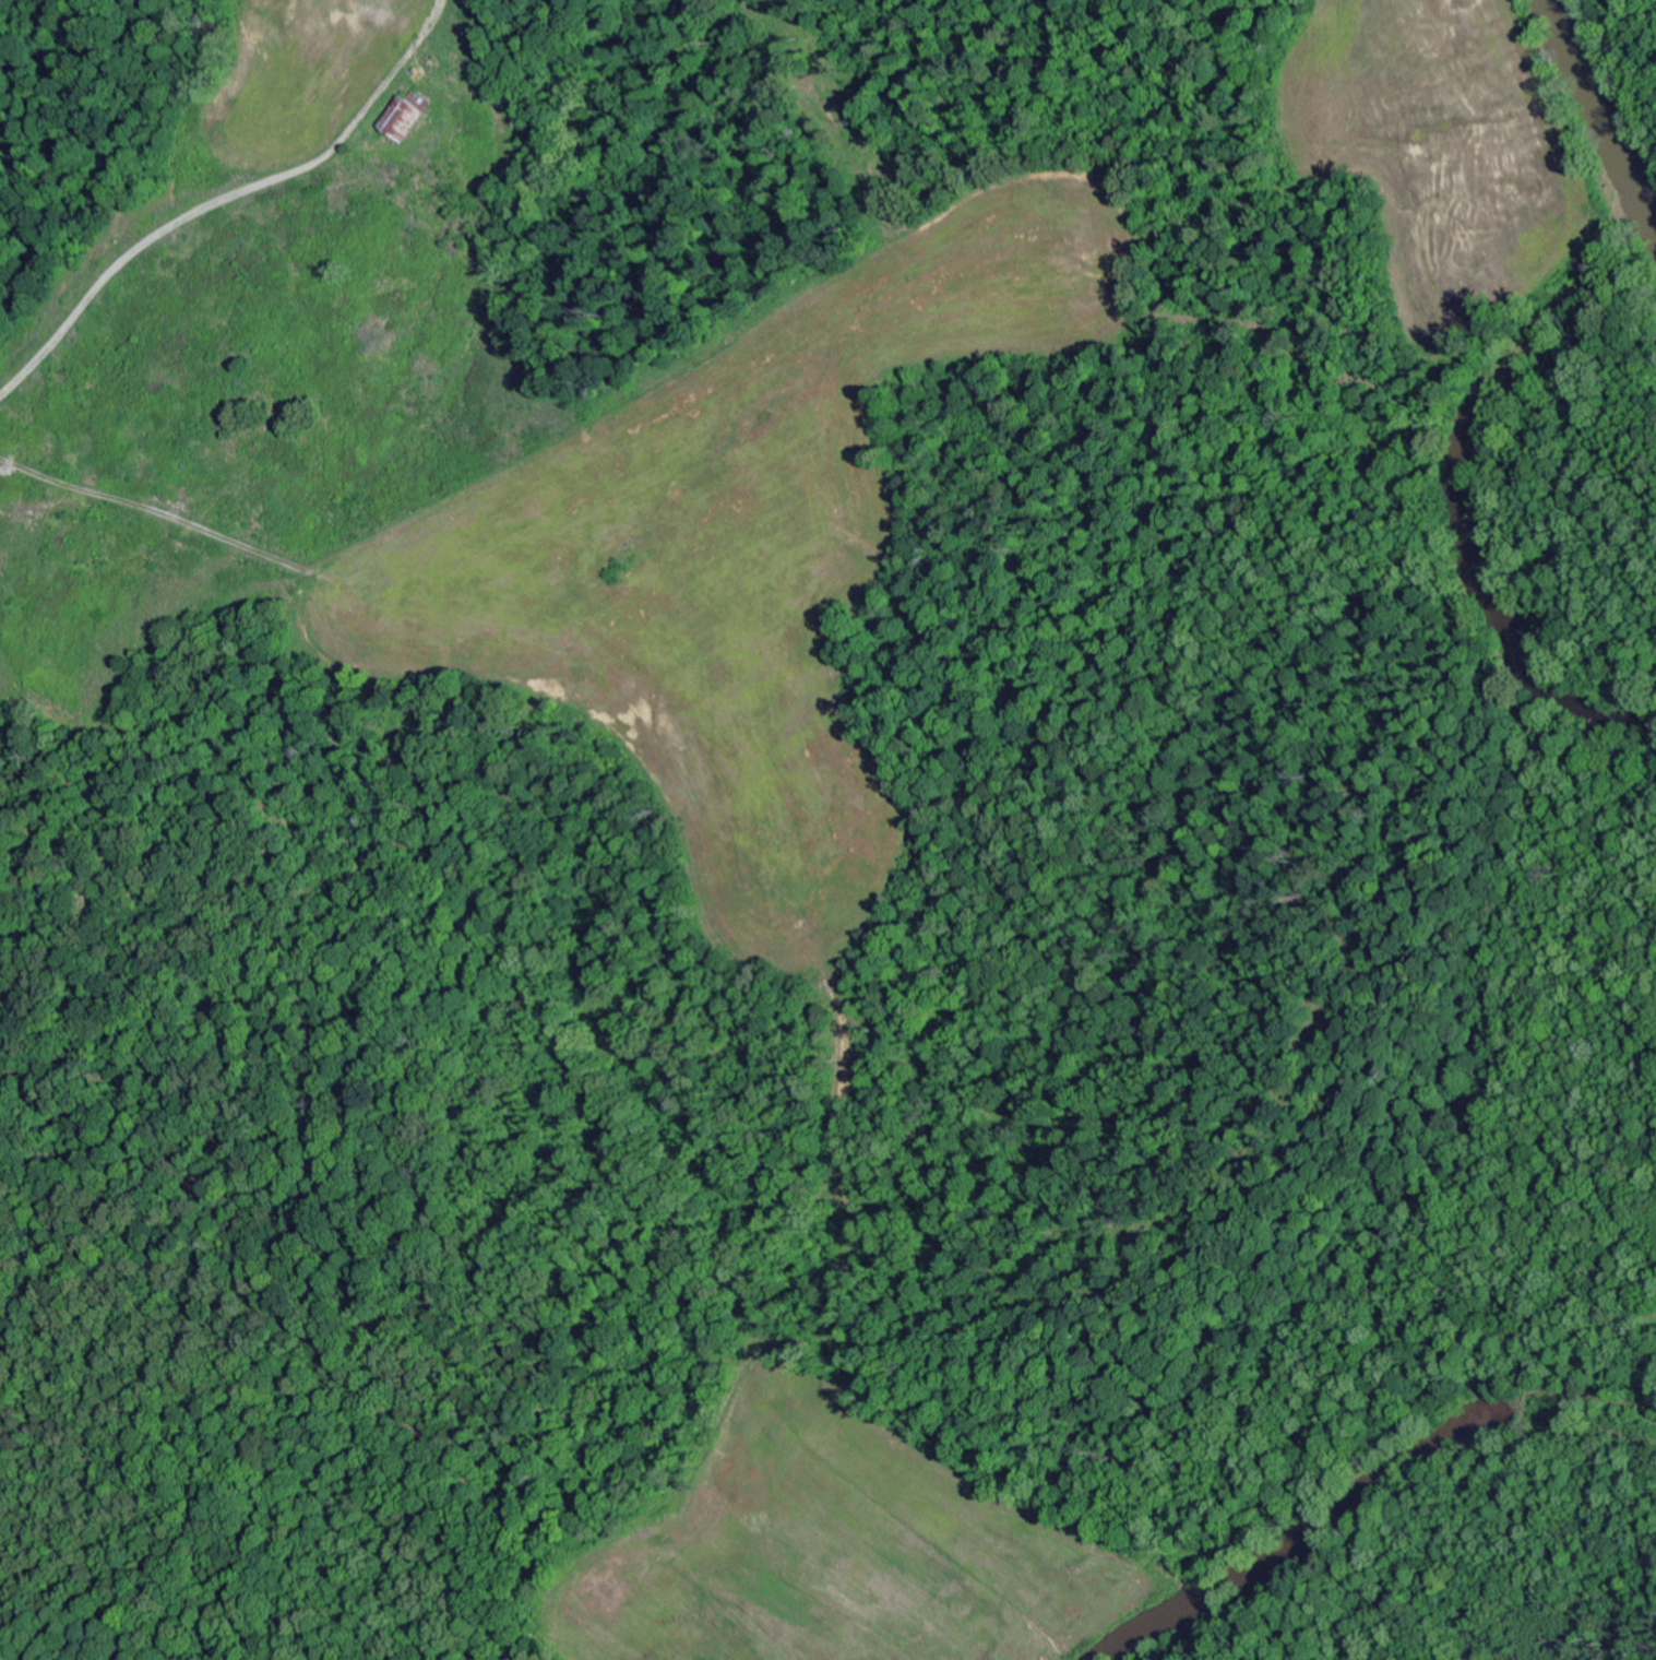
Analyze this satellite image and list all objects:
river: (1606, 116)
building: (408, 117)
road: (217, 227)

